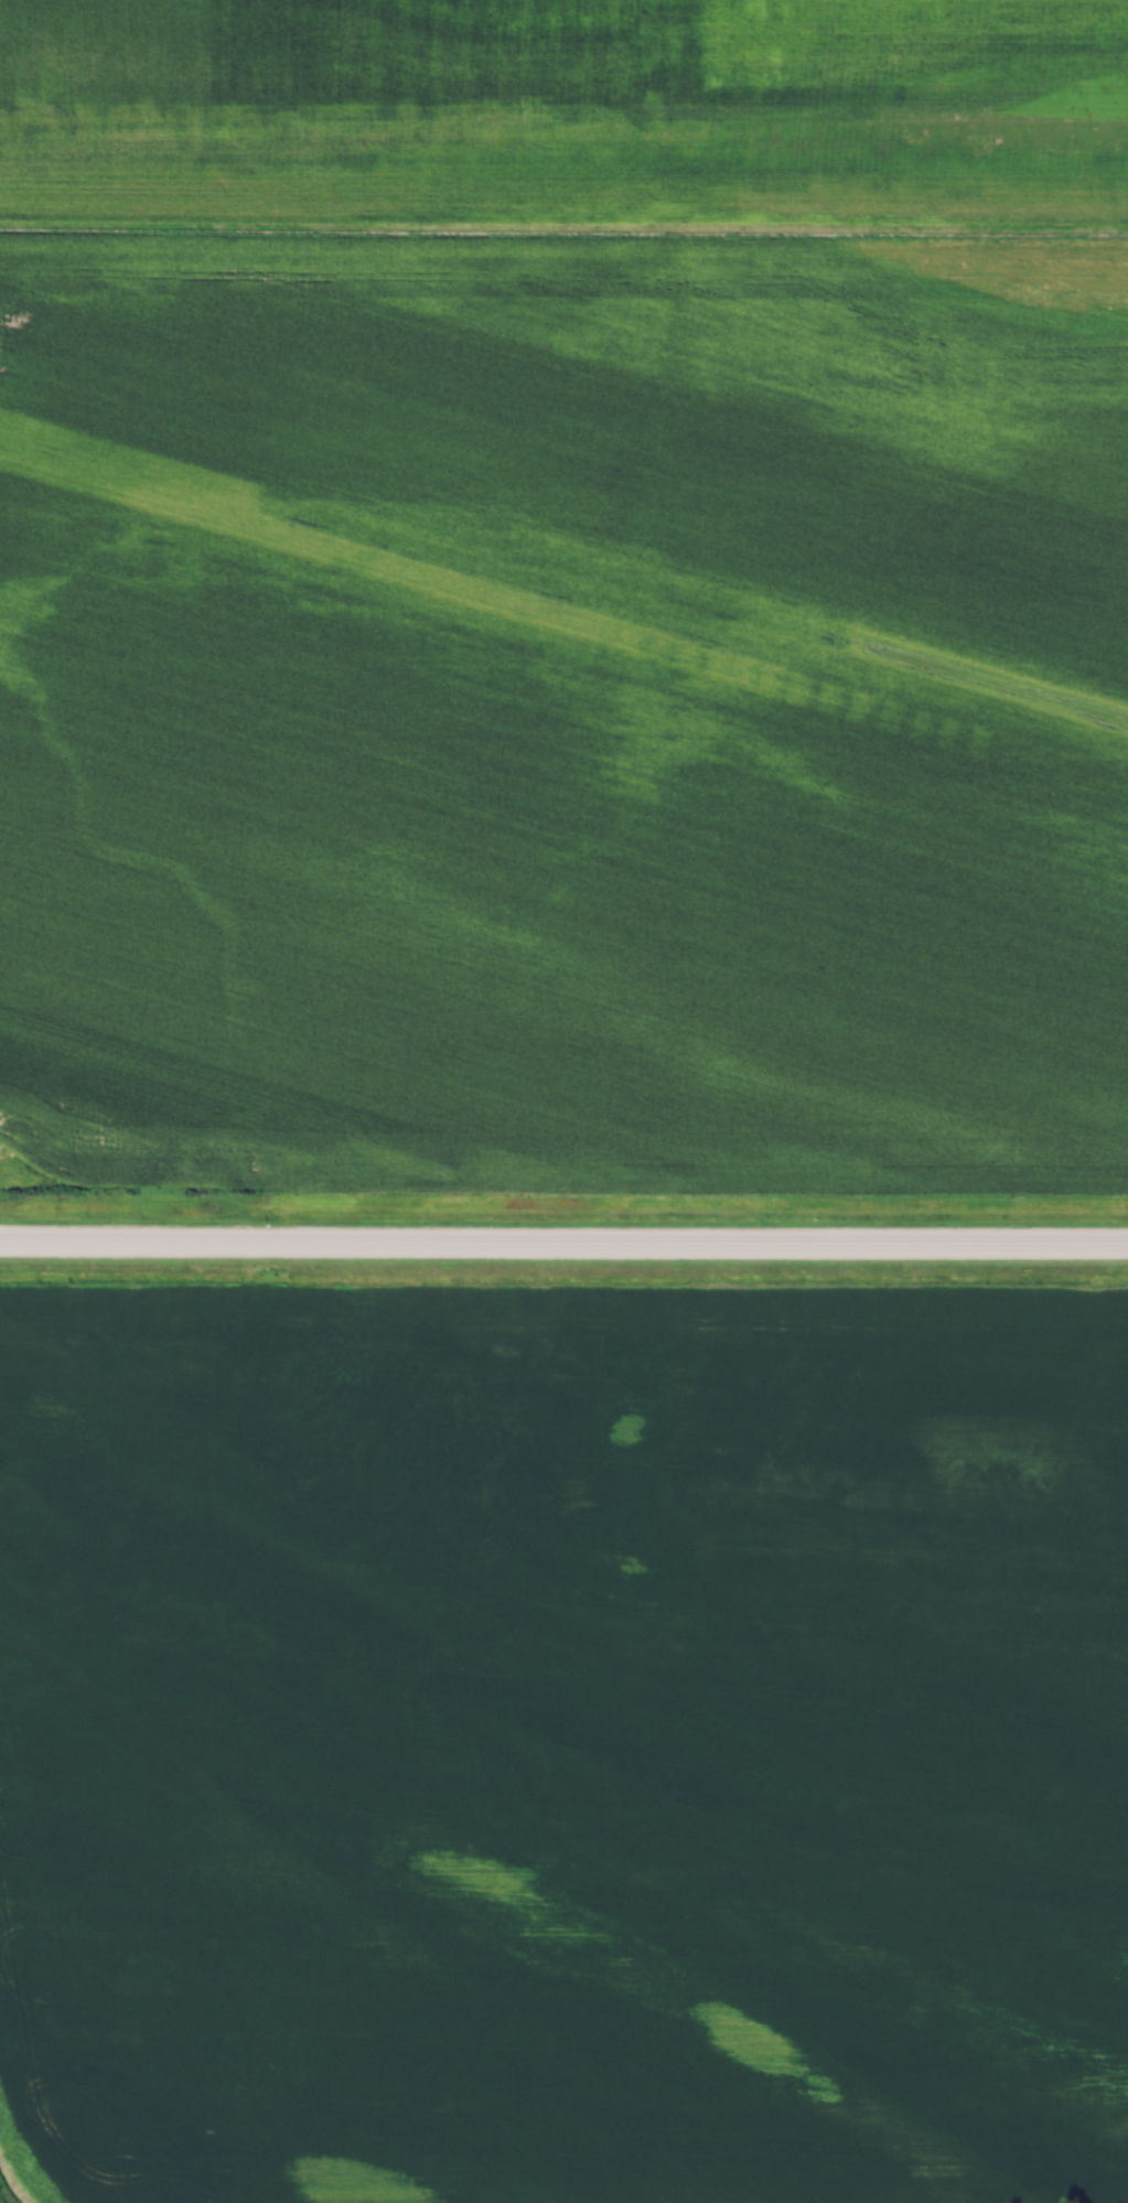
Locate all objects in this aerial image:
road: (563, 1244)

